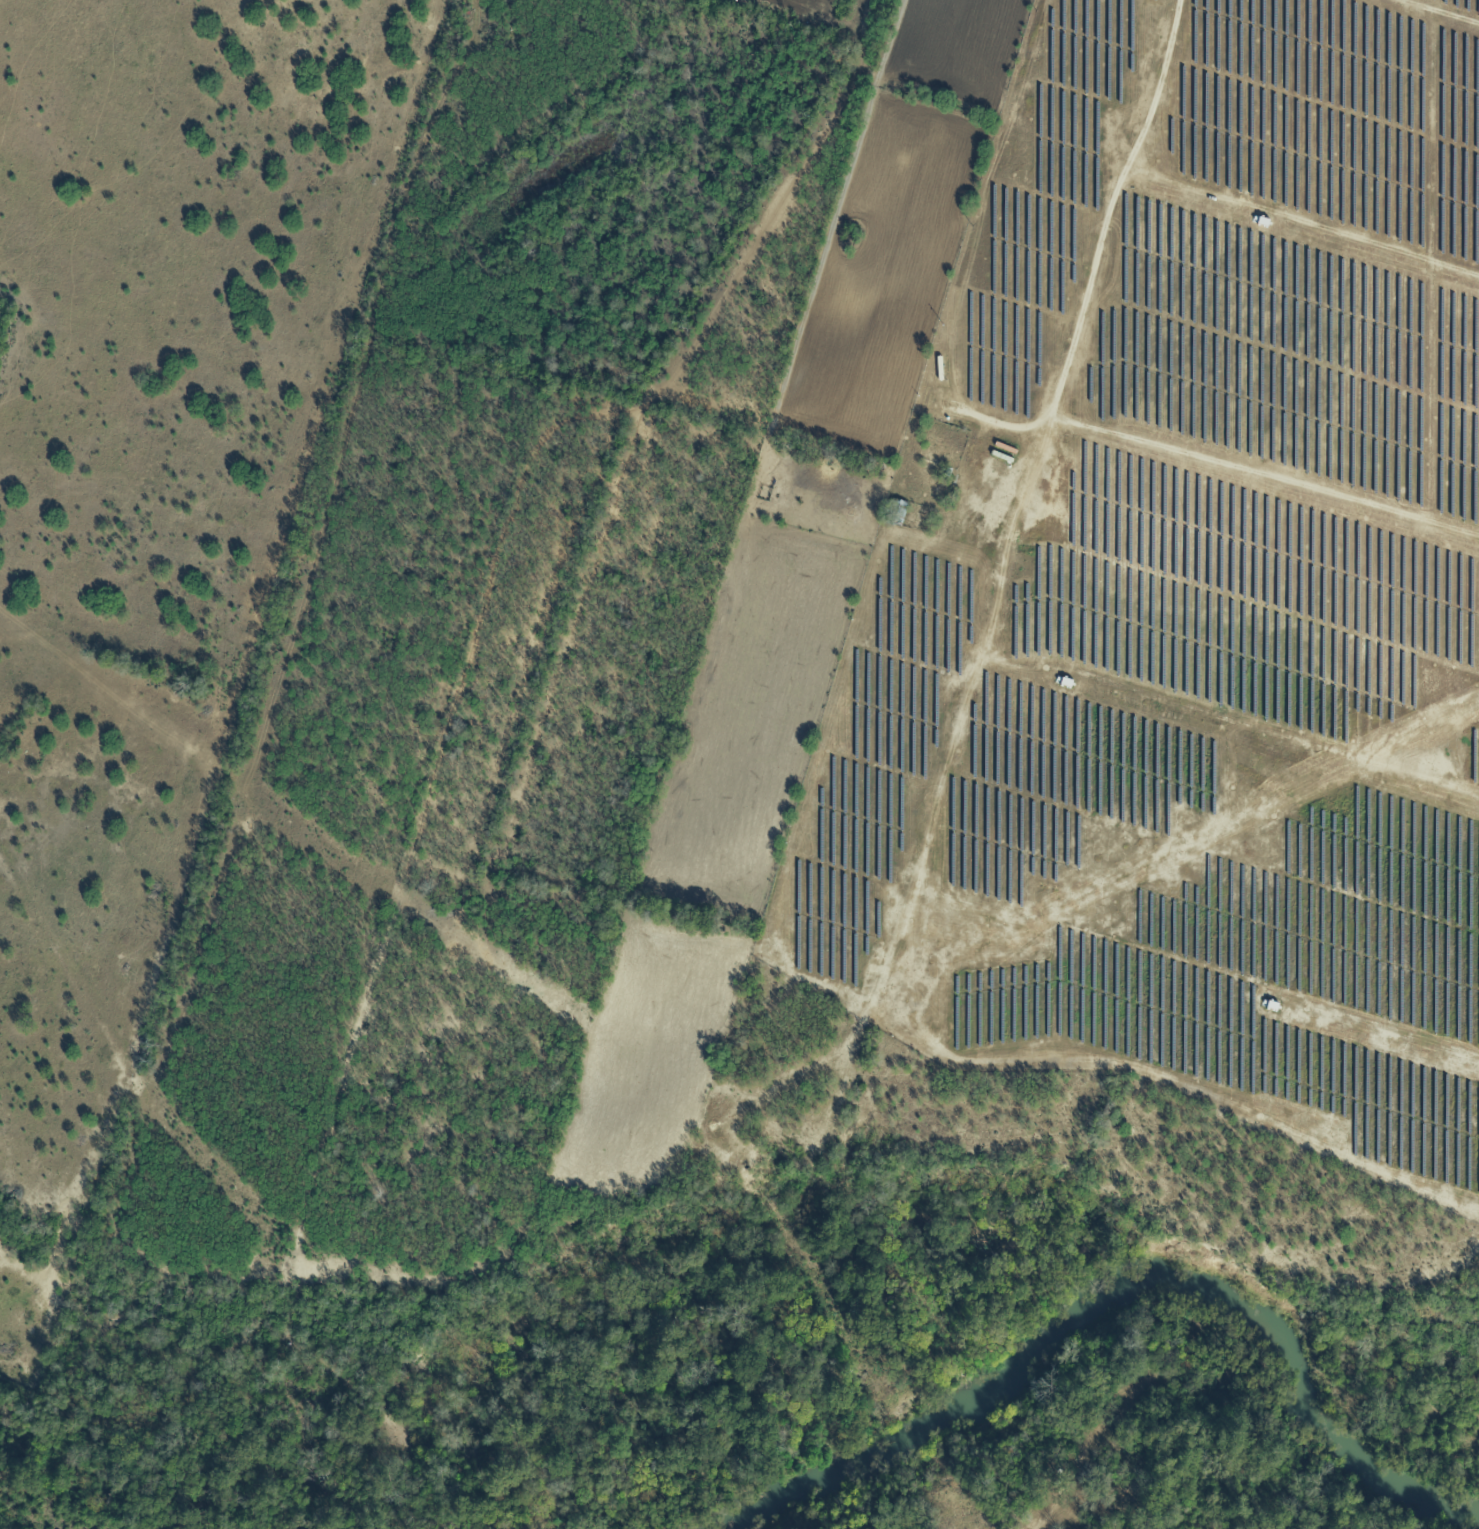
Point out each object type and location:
road: (1288, 386)
solar farm: (1188, 590)
river: (1121, 1293)

